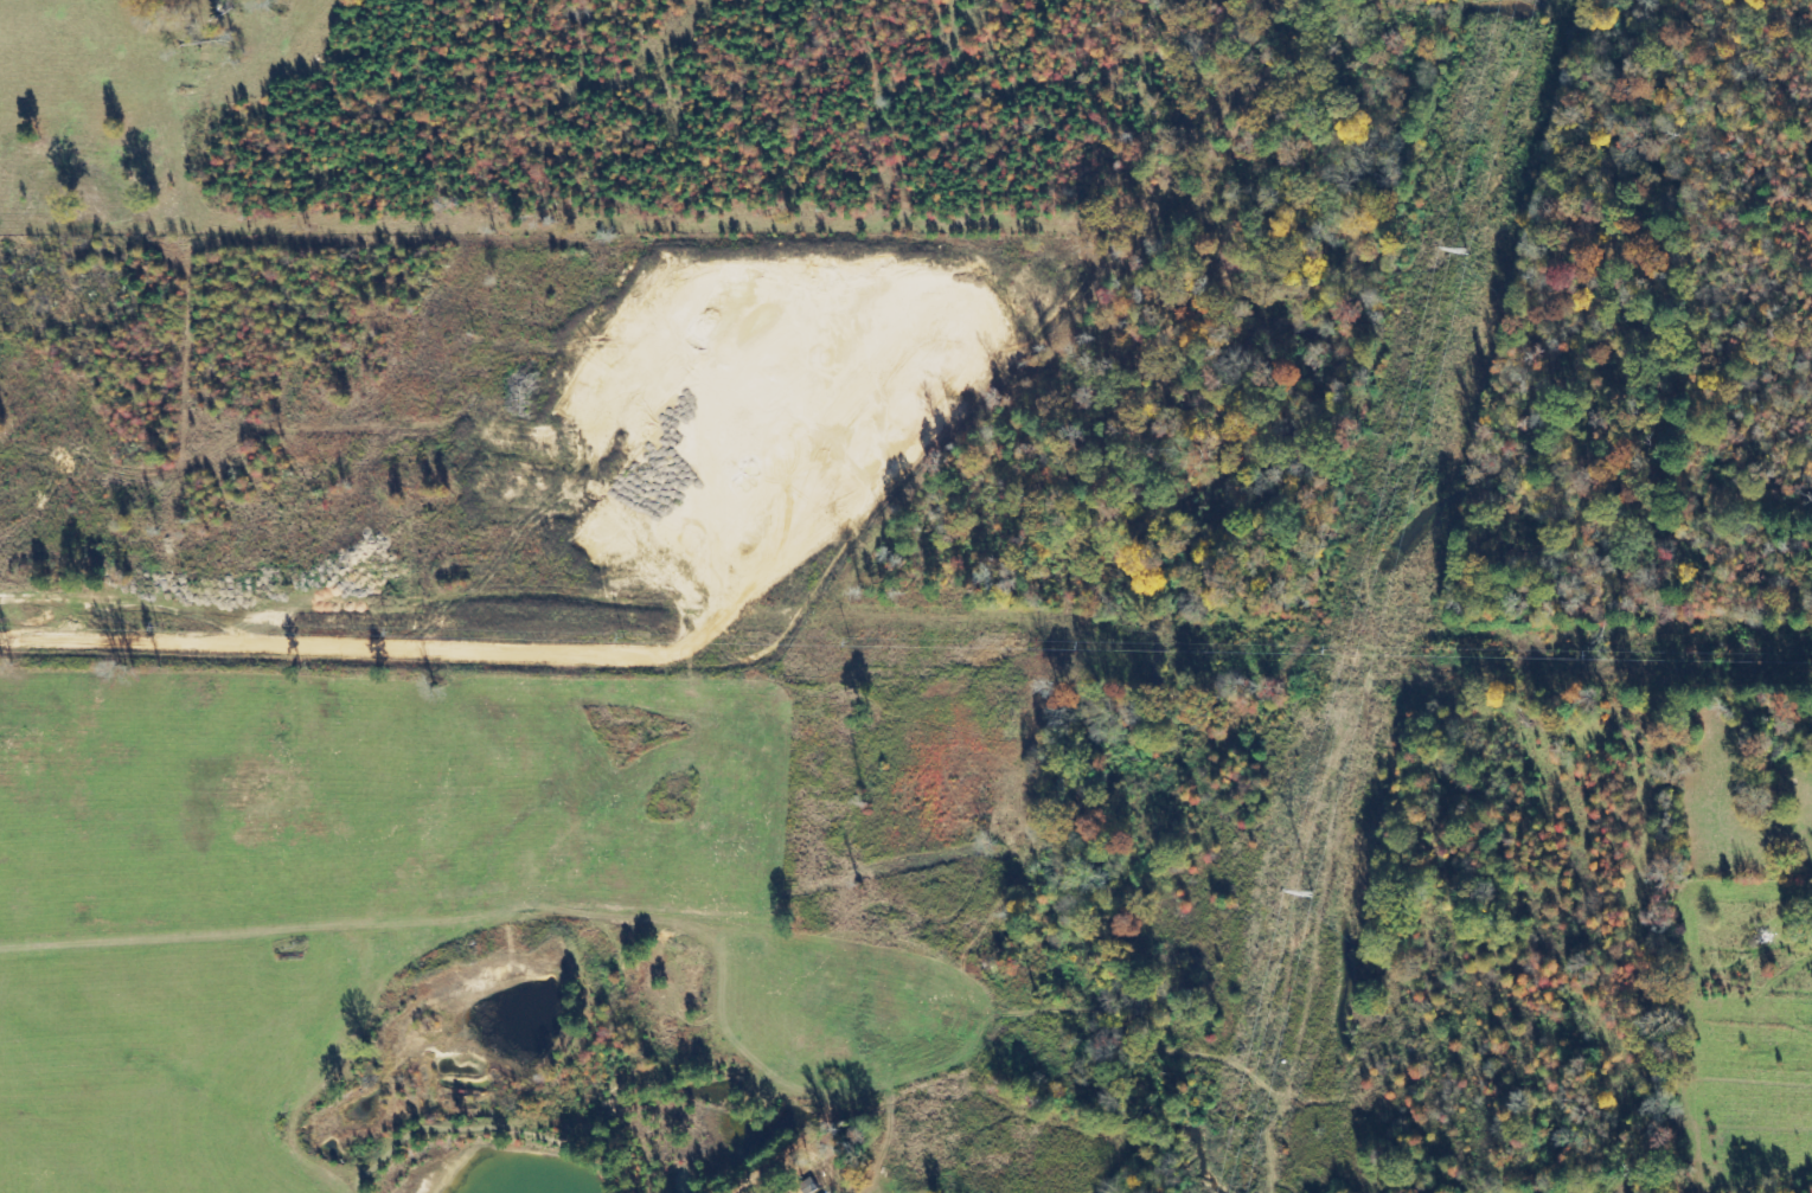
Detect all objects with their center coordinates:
power tower: (1466, 246)
road: (788, 731)
power tower: (1311, 891)

